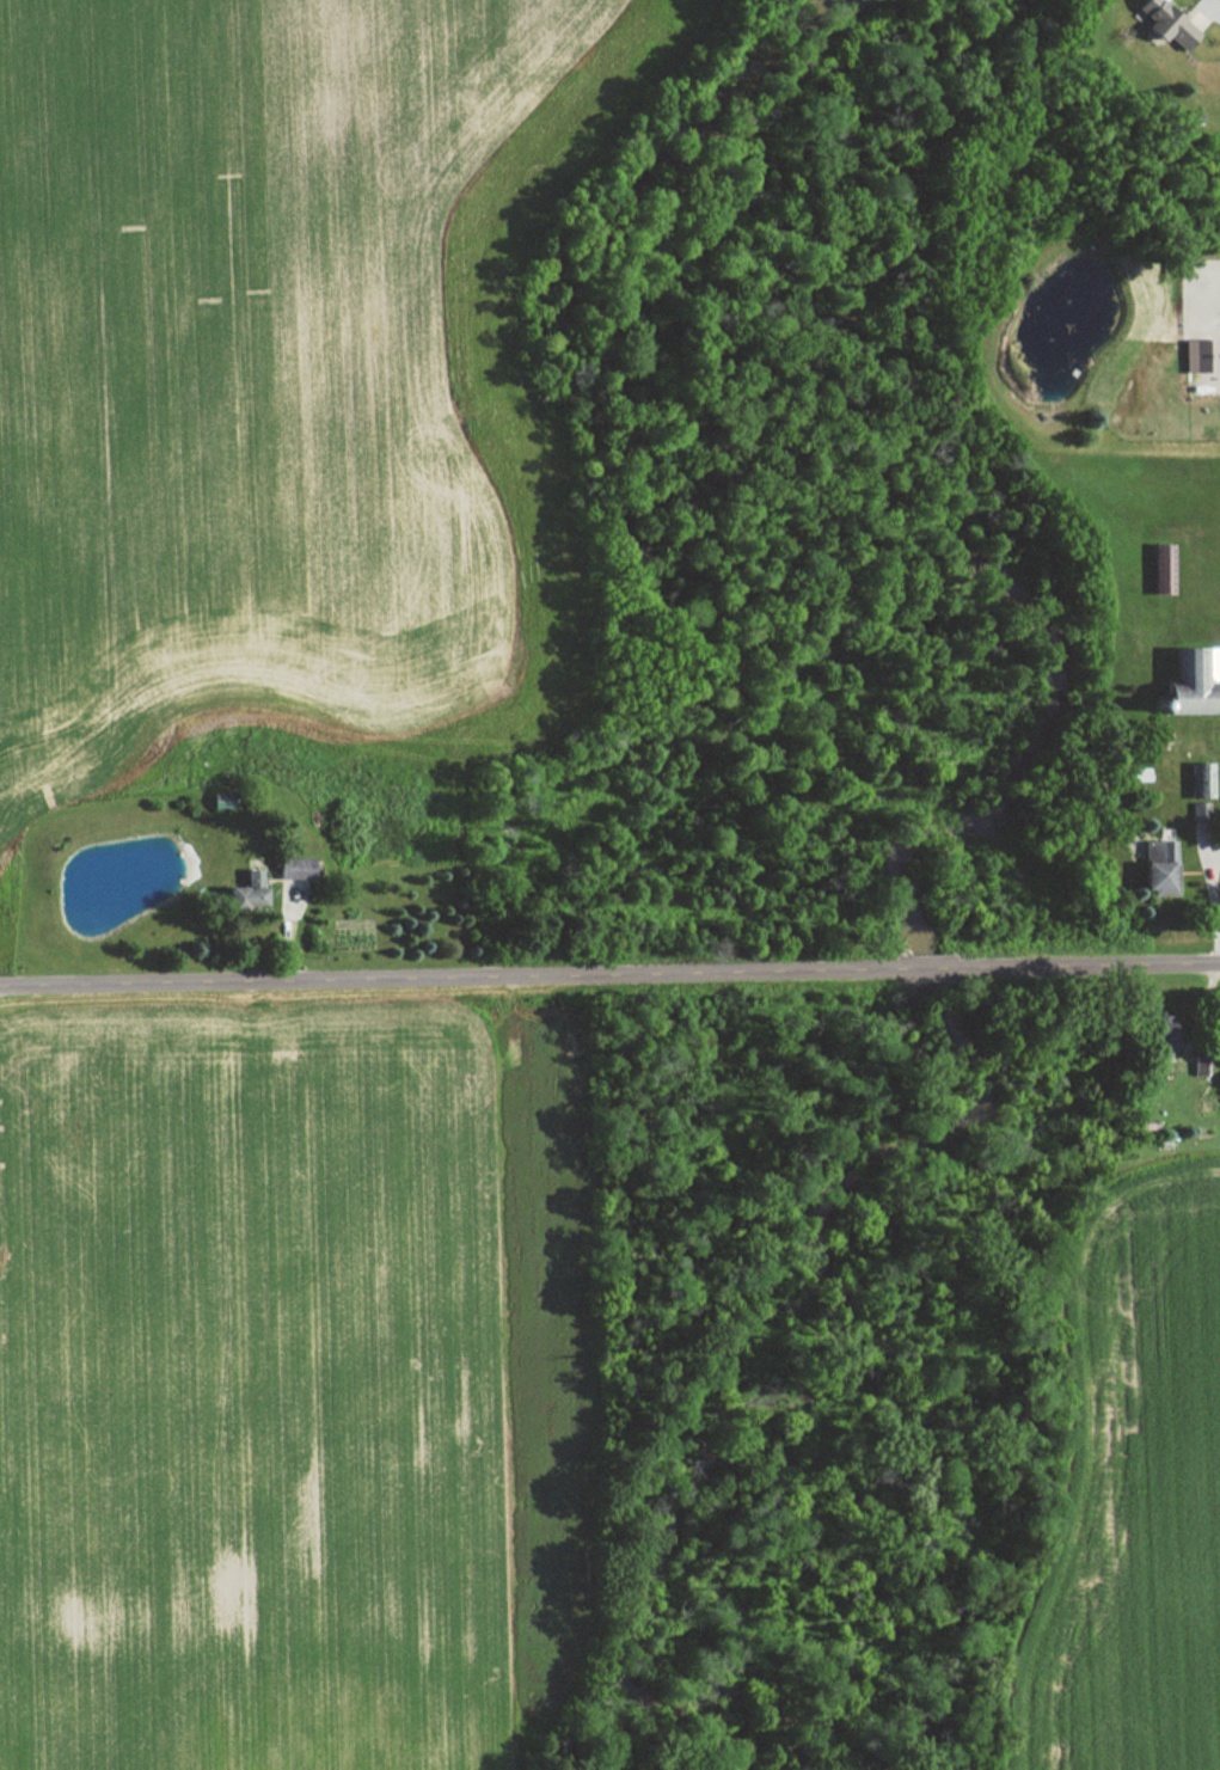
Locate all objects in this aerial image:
building: (1160, 22)
building: (1190, 356)
crop: (243, 362)
building: (1157, 569)
building: (1191, 682)
building: (289, 869)
building: (1155, 870)
building: (246, 878)
road: (1208, 901)
road: (609, 967)
building: (1157, 1041)
crop: (244, 1391)
crop: (1135, 1489)

